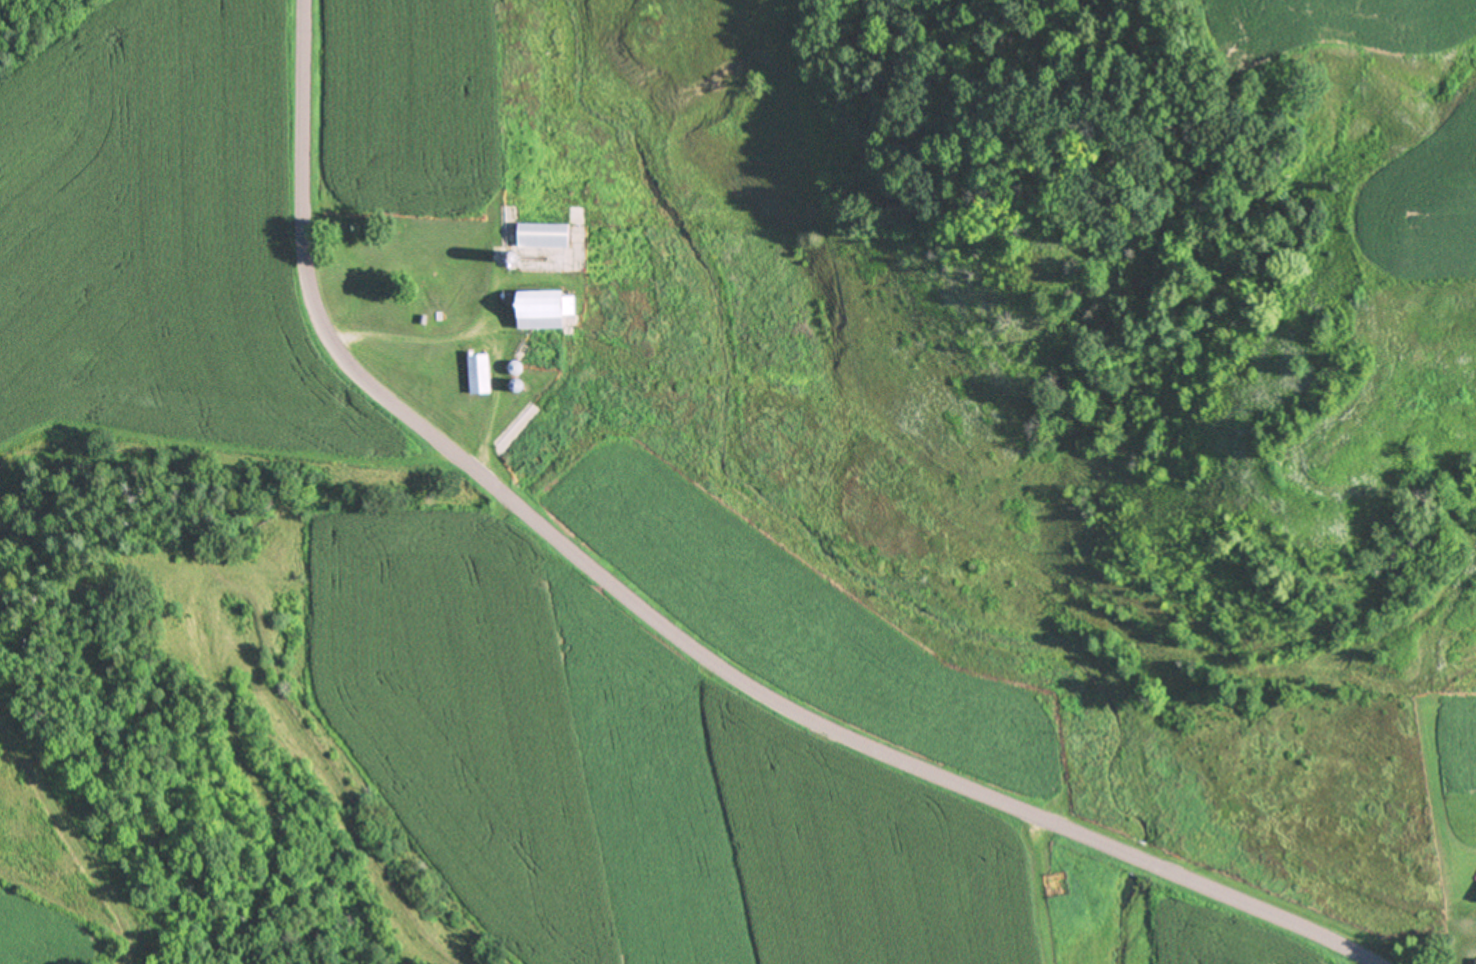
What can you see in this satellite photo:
road: (301, 124)
building: (546, 235)
building: (549, 309)
road: (479, 335)
building: (480, 374)
road: (766, 697)

